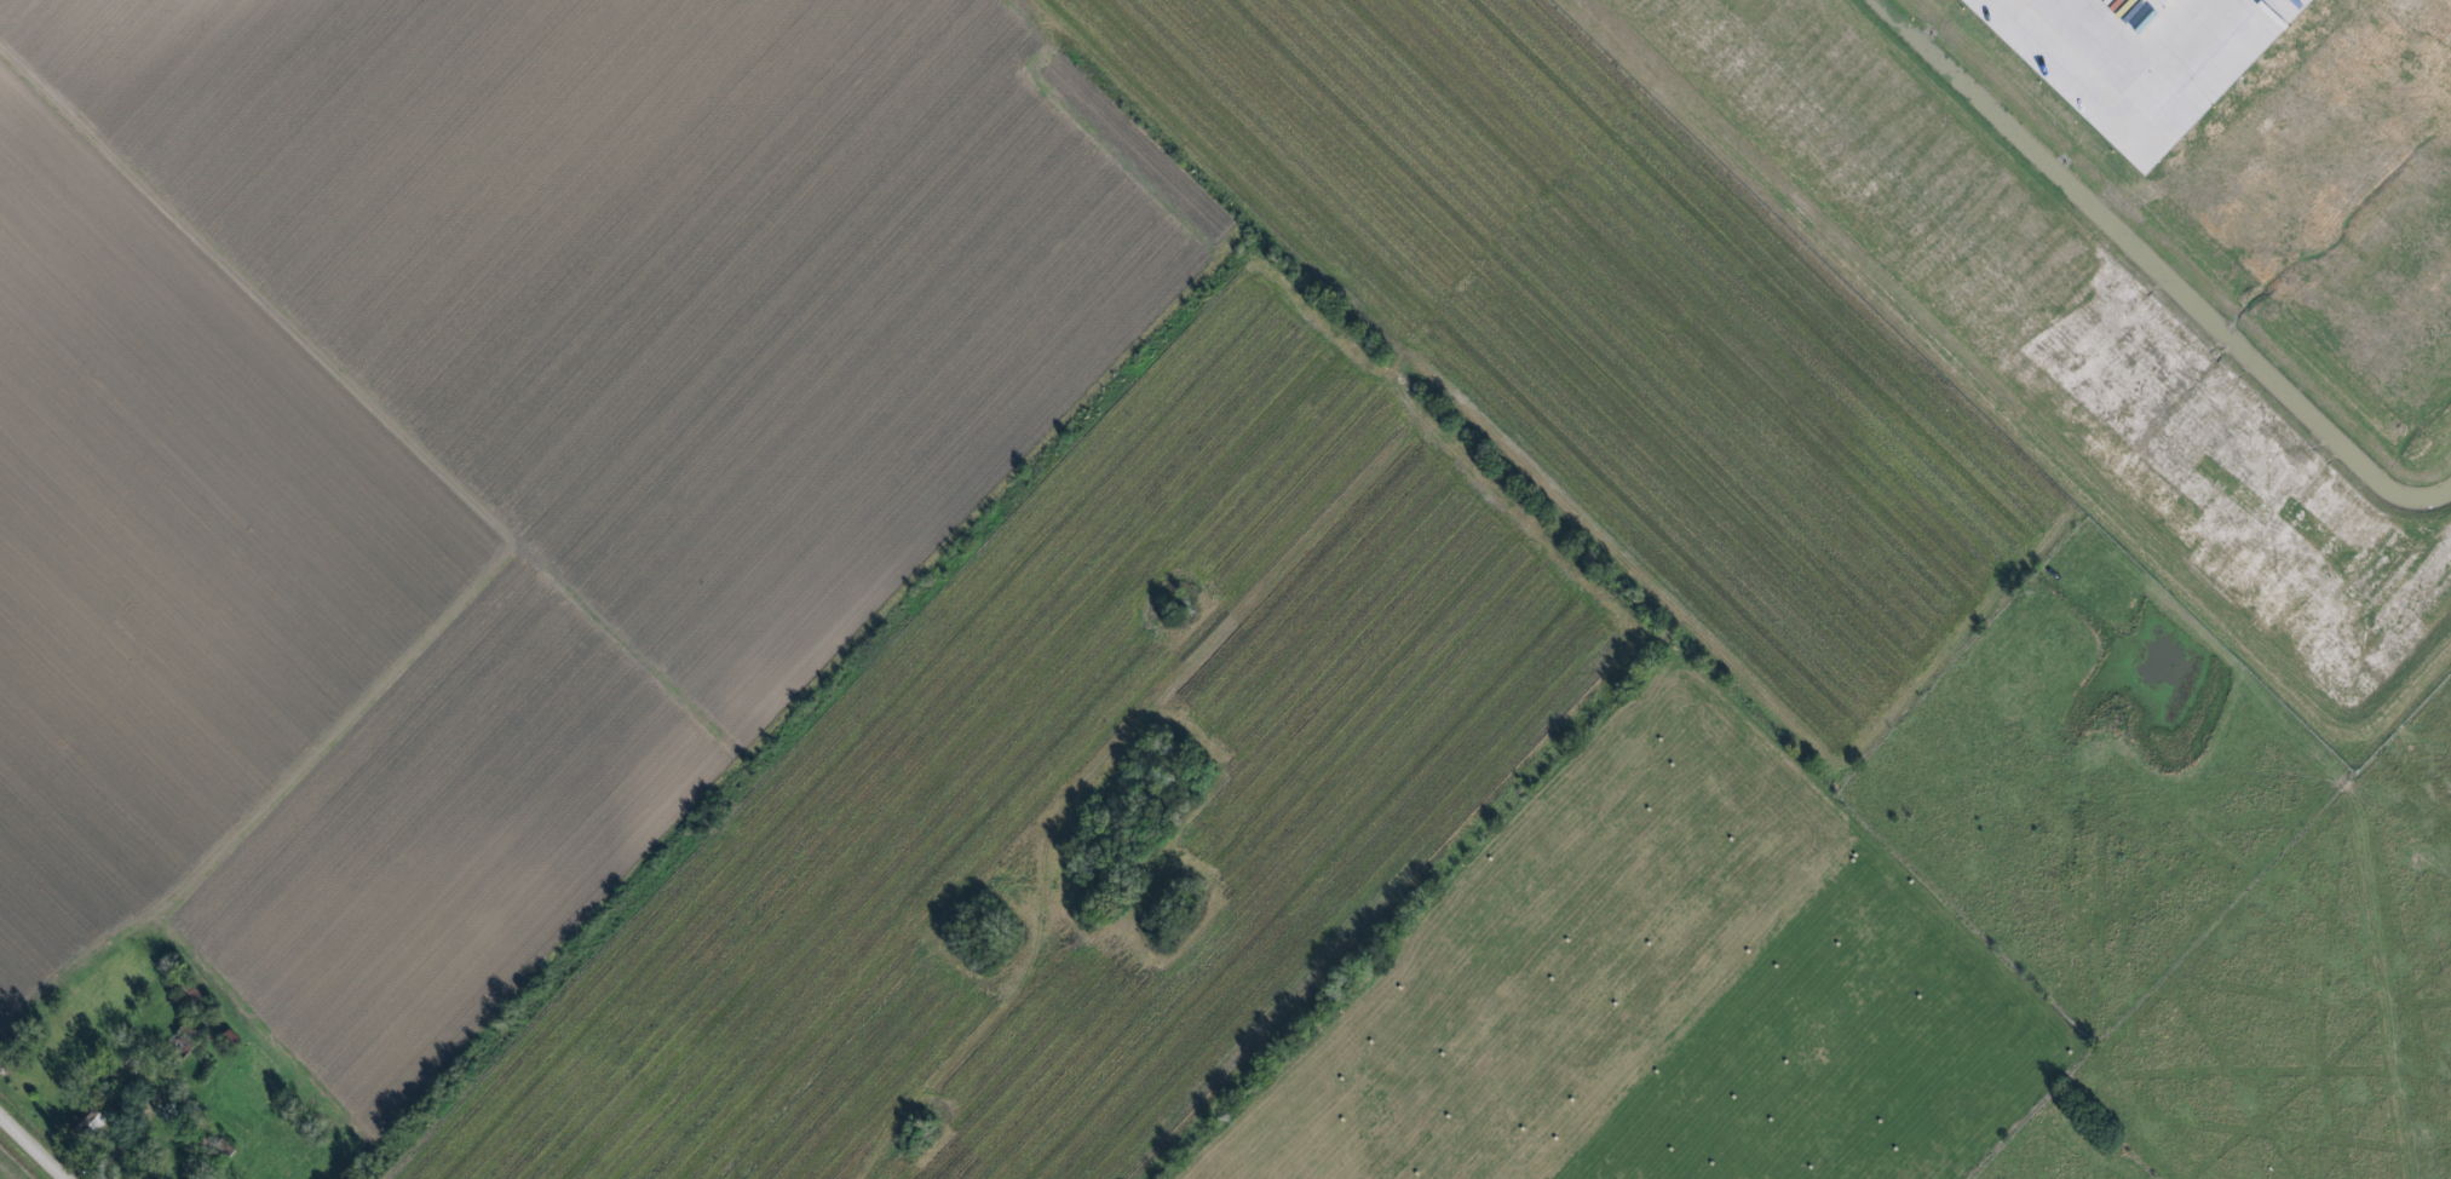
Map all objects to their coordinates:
road: (2127, 76)
building: (184, 1041)
building: (86, 1122)
road: (34, 1145)

